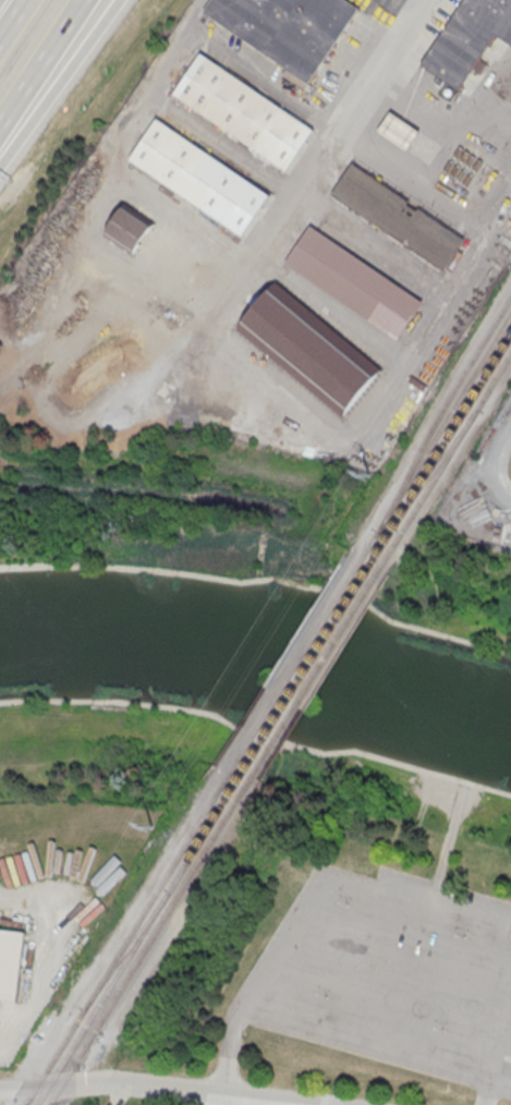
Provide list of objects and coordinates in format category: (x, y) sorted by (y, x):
road: (404, 7)
road: (12, 19)
road: (107, 21)
building: (287, 27)
building: (469, 38)
road: (41, 62)
road: (46, 104)
building: (244, 111)
building: (399, 130)
building: (199, 178)
building: (398, 216)
building: (129, 229)
building: (354, 281)
building: (309, 350)
road: (231, 359)
railway: (441, 413)
railway: (439, 433)
railway: (445, 445)
railway: (449, 457)
road: (500, 466)
railway: (437, 469)
power tower: (372, 476)
river: (259, 664)
railway: (294, 670)
railway: (304, 675)
railway: (314, 678)
park: (257, 776)
power tower: (153, 827)
road: (451, 834)
road: (343, 878)
railway: (122, 947)
railway: (127, 949)
railway: (134, 949)
railway: (145, 951)
building: (11, 964)
parking lot: (391, 975)
road: (229, 1048)
road: (407, 1052)
road: (488, 1078)
road: (32, 1089)
road: (179, 1090)
road: (242, 1102)

